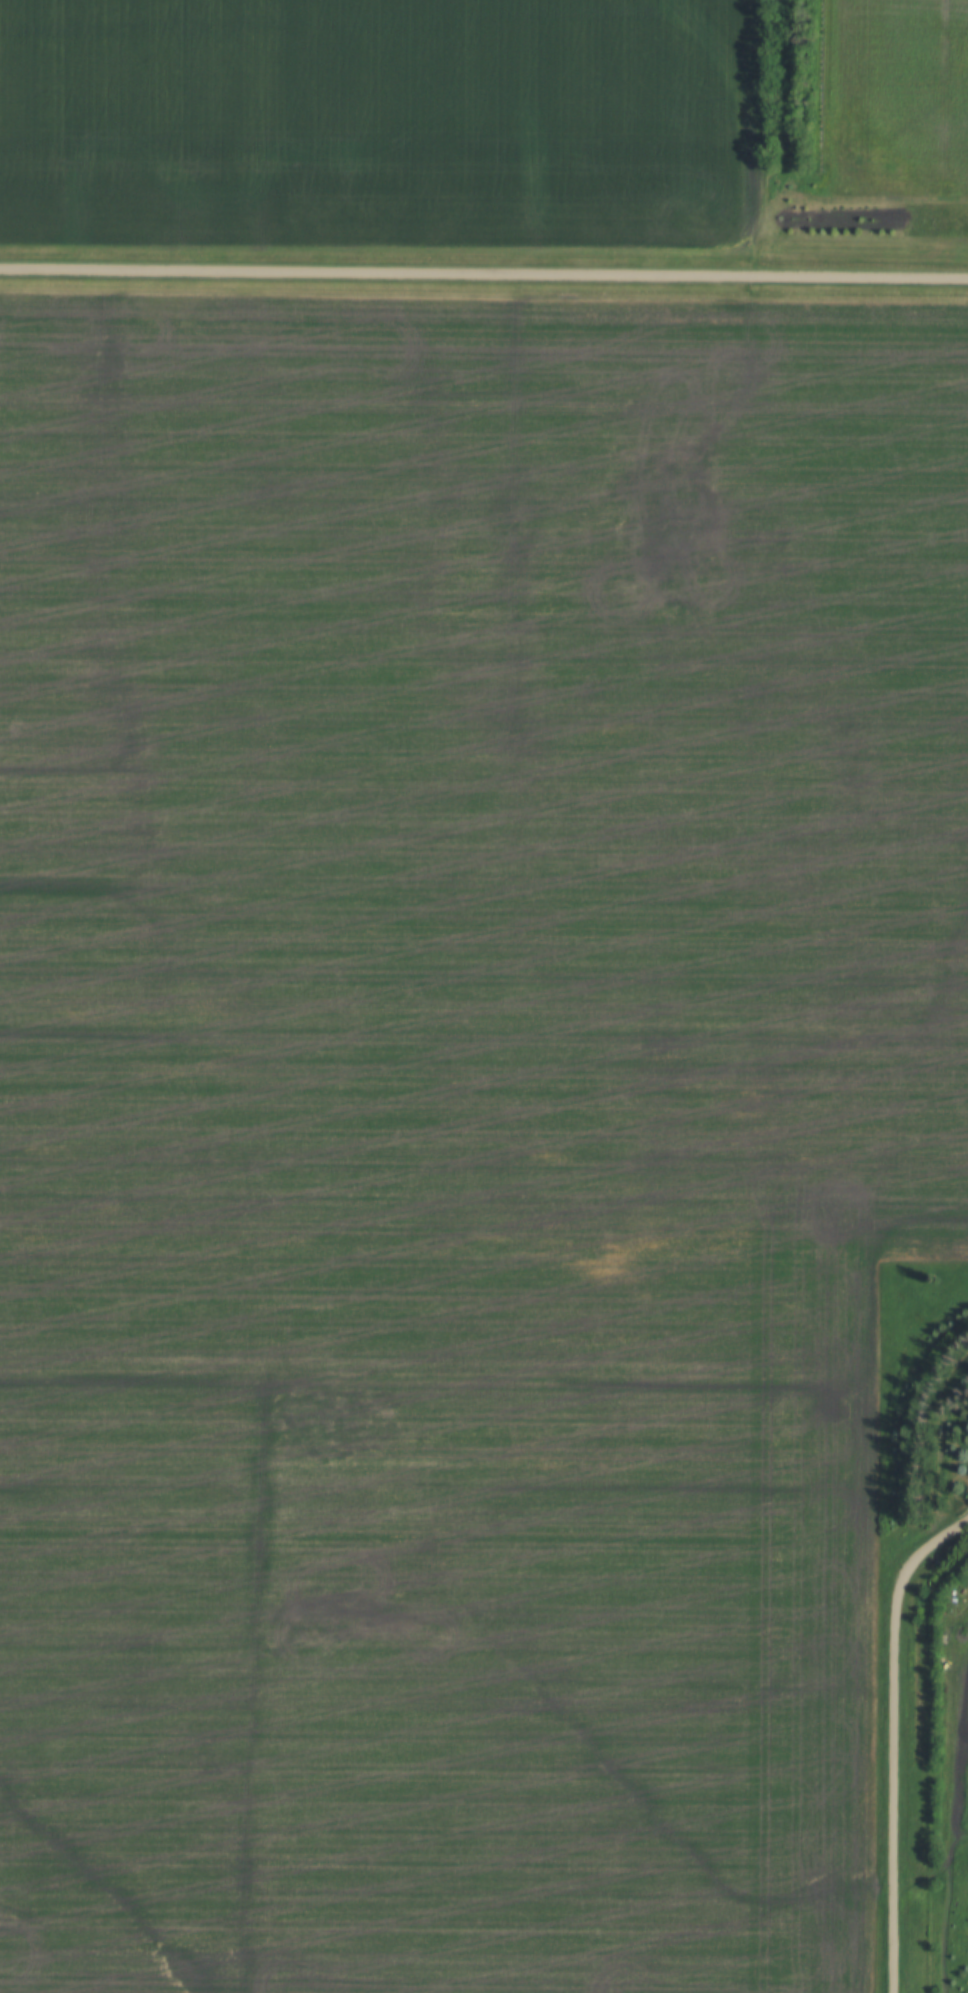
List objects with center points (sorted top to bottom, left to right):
road: (484, 275)
road: (891, 1740)

